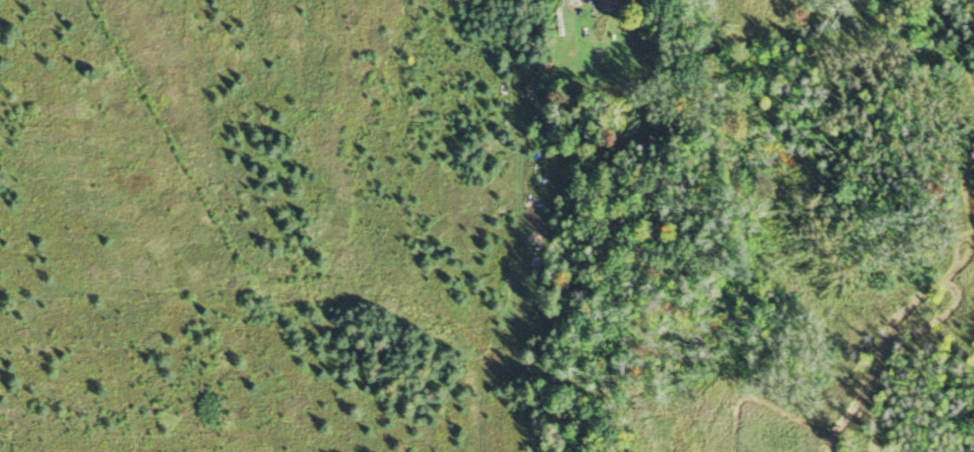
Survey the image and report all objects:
building: (610, 4)

